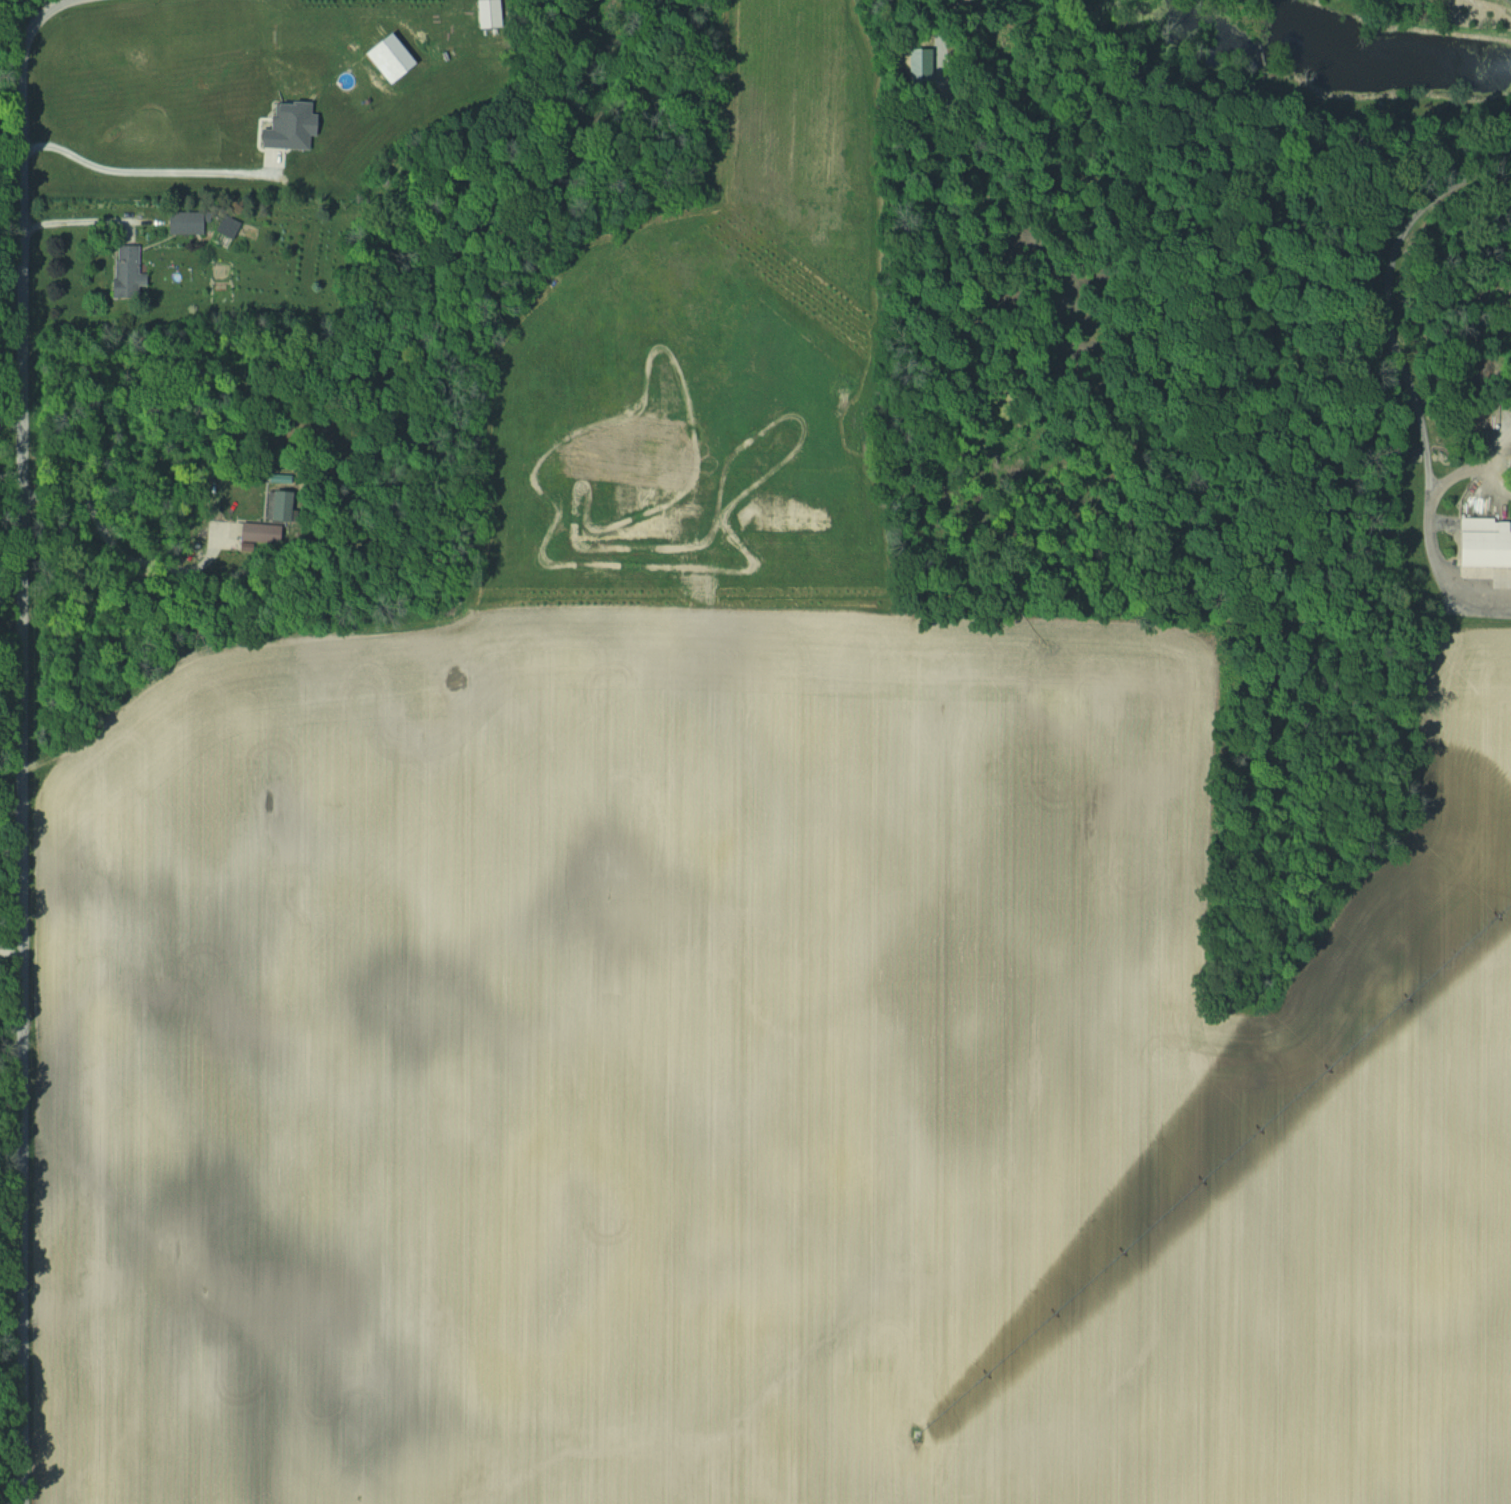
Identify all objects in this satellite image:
road: (1508, 2)
road: (149, 170)
building: (191, 222)
building: (231, 226)
road: (79, 229)
building: (131, 272)
road: (1393, 362)
building: (277, 505)
building: (260, 532)
building: (1487, 542)
road: (104, 543)
road: (1488, 615)
road: (22, 741)

